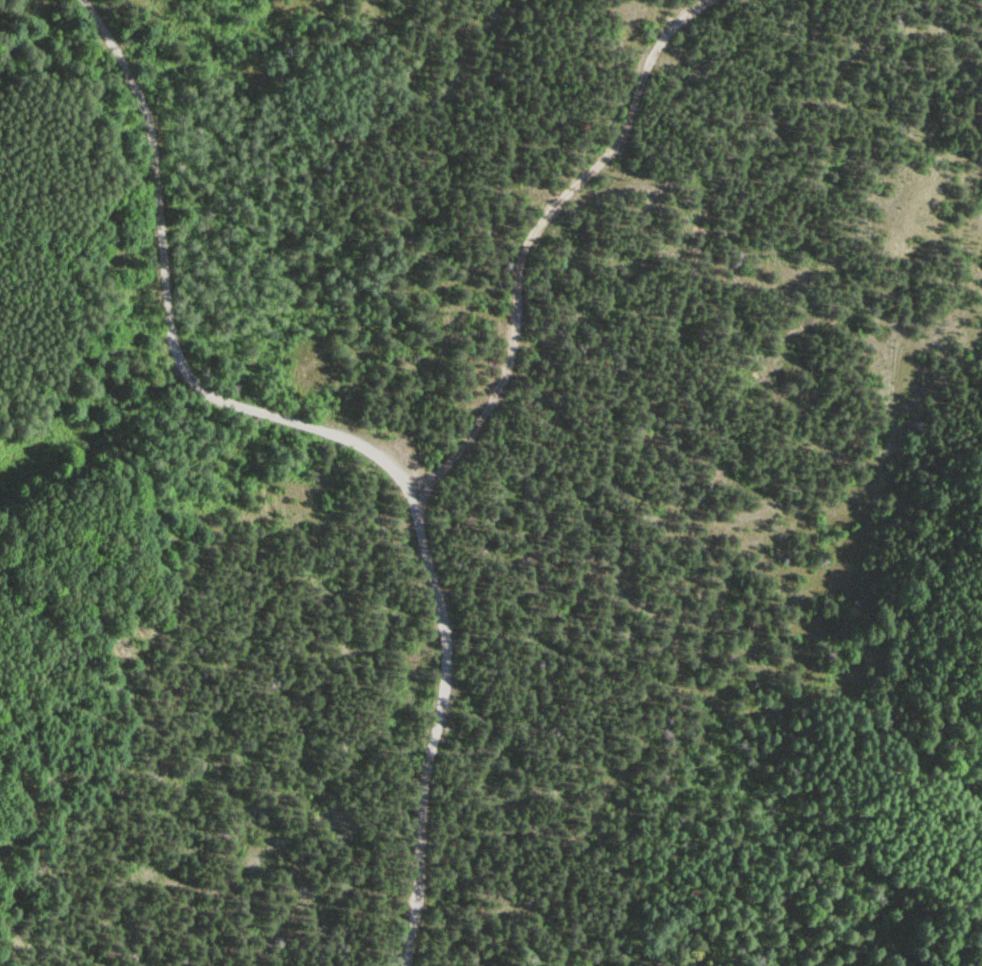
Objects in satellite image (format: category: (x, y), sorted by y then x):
road: (171, 313)
road: (460, 452)

